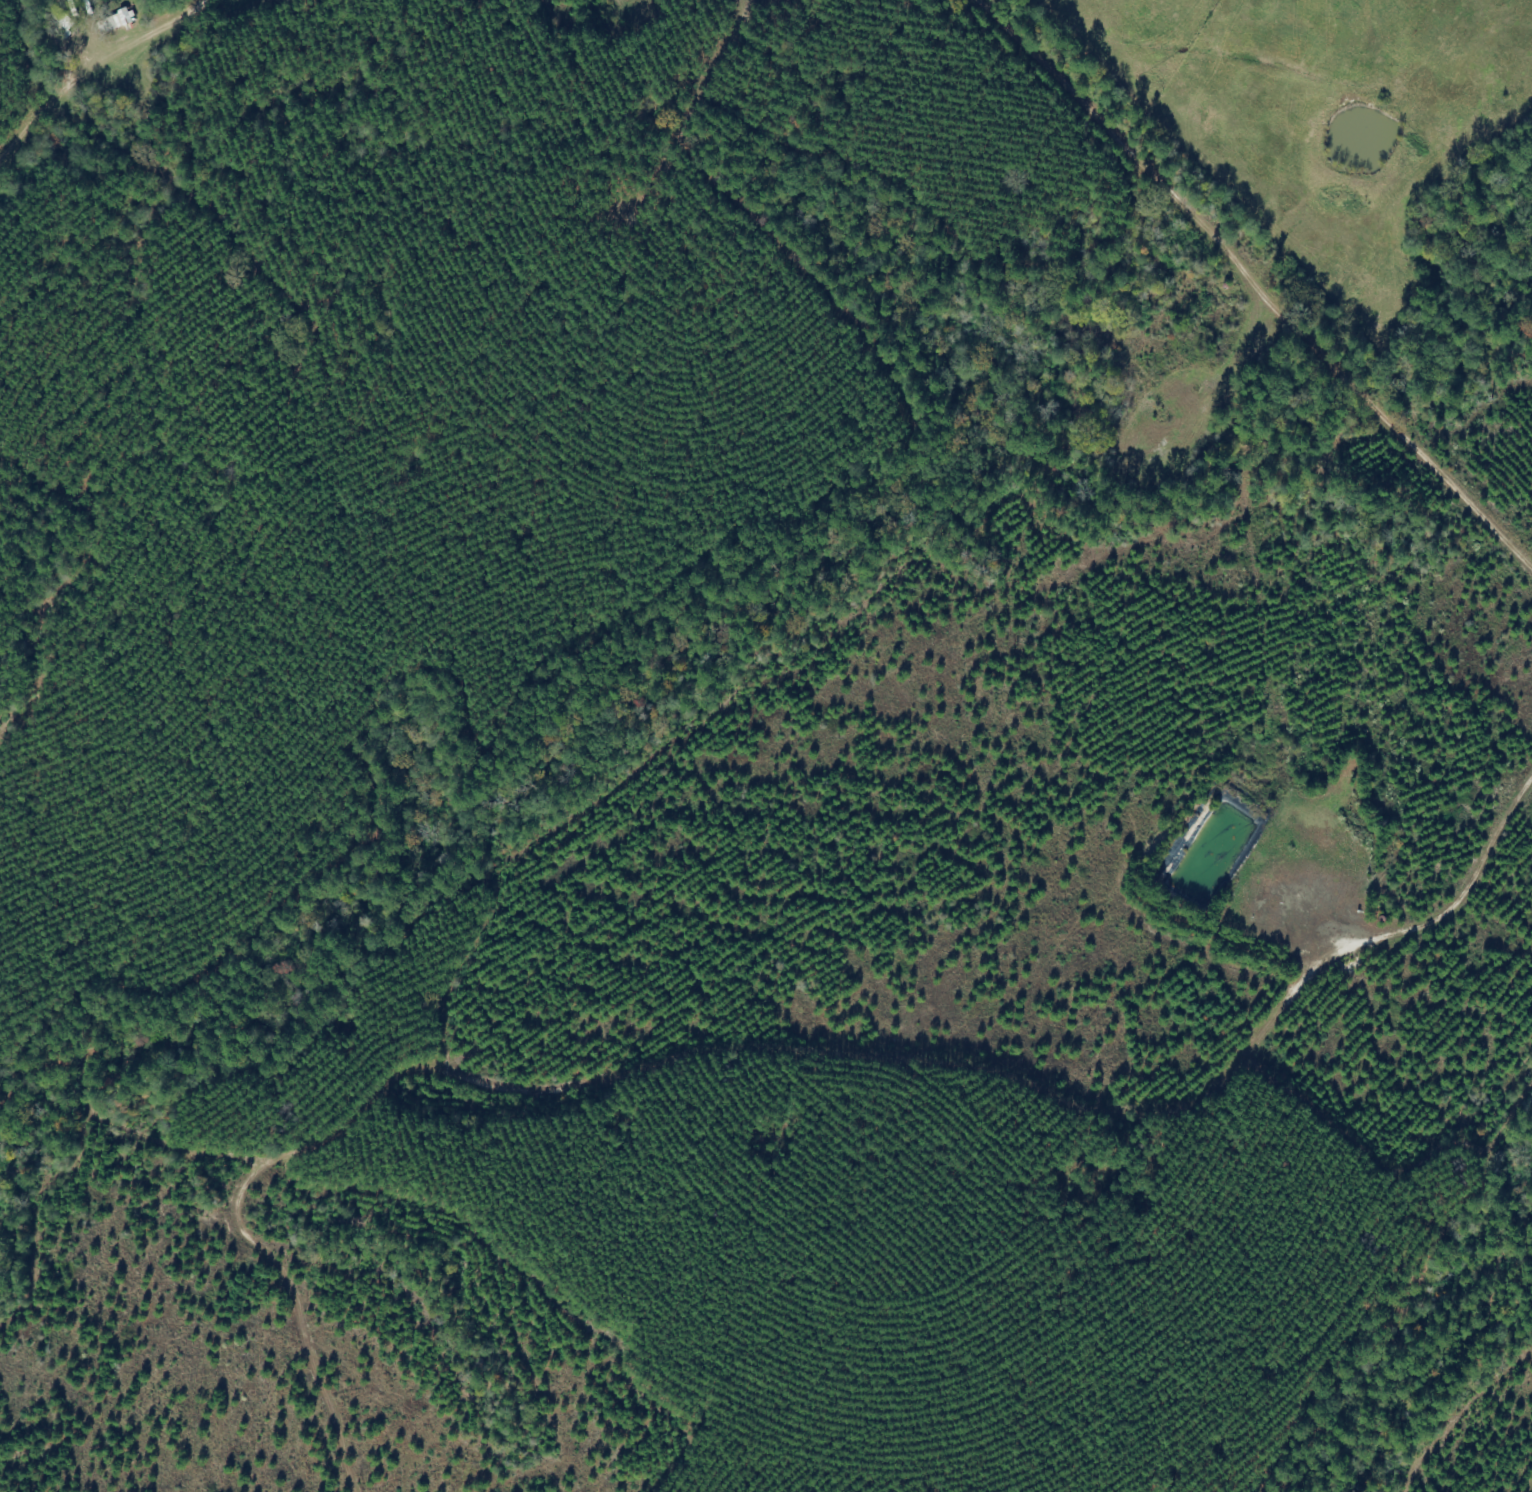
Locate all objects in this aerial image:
road: (119, 85)
road: (1209, 223)
road: (1486, 478)

